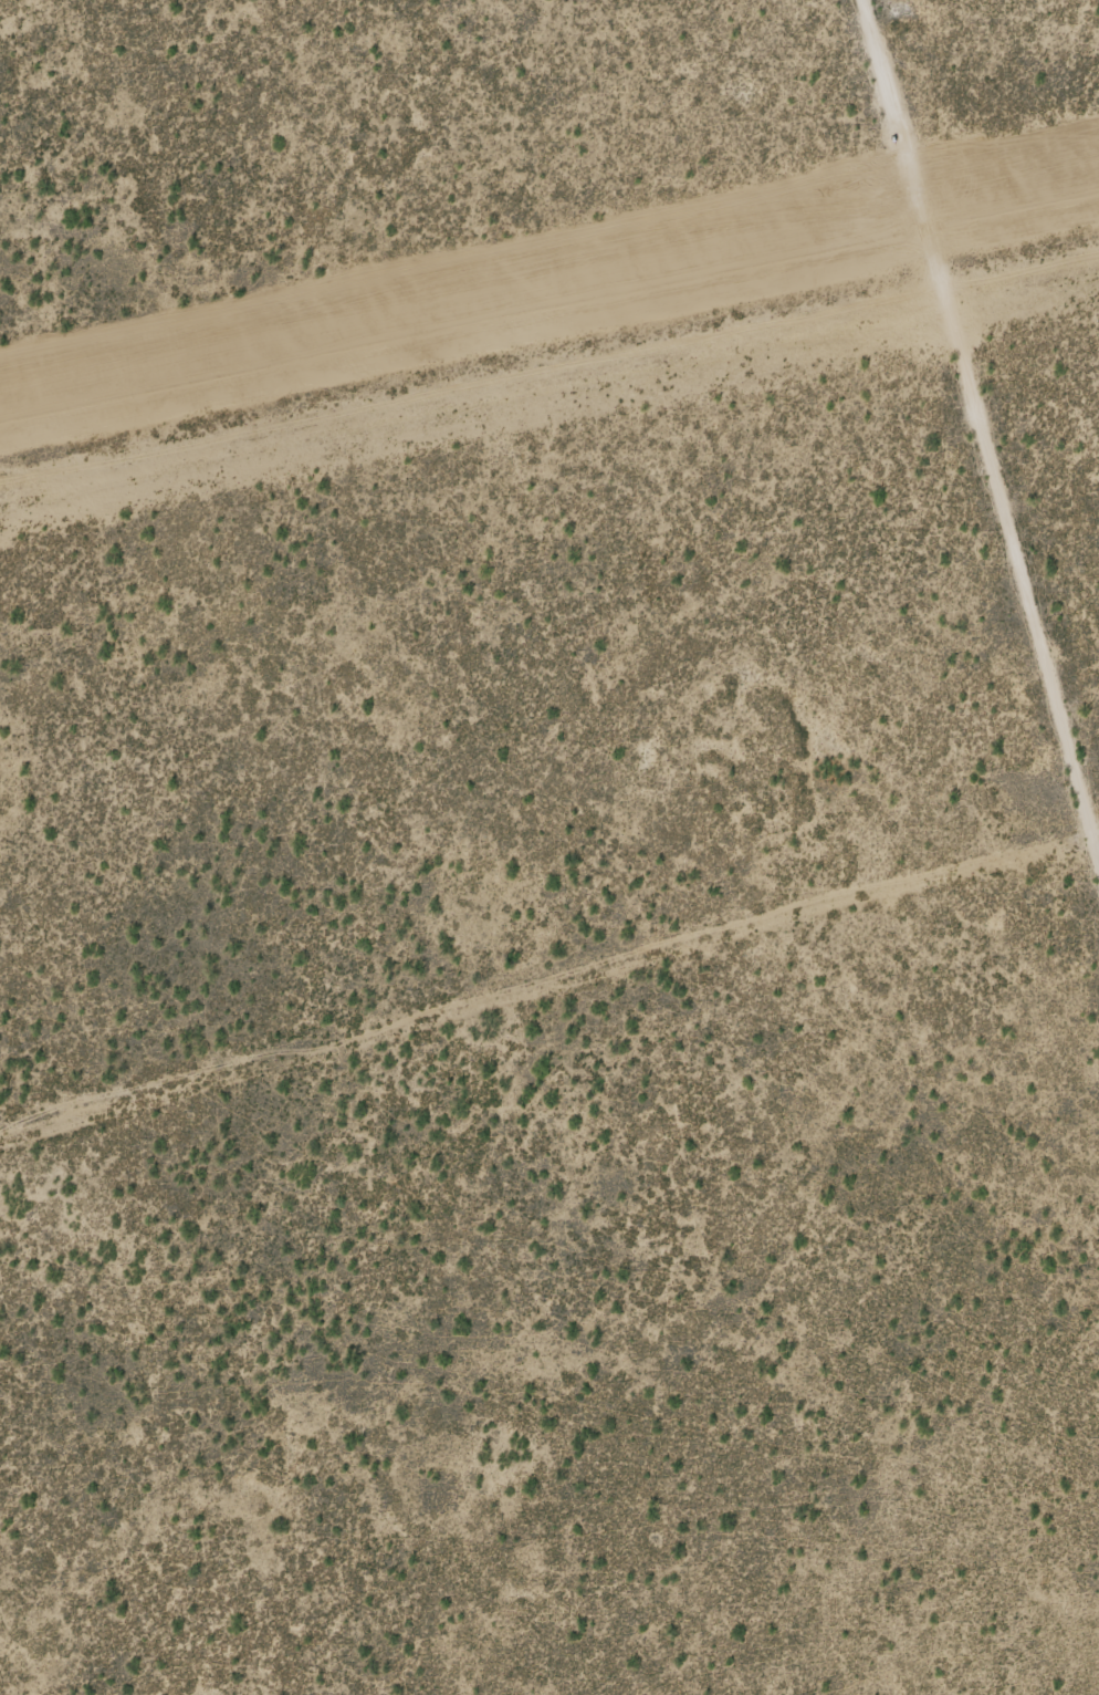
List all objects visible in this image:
road: (991, 401)

